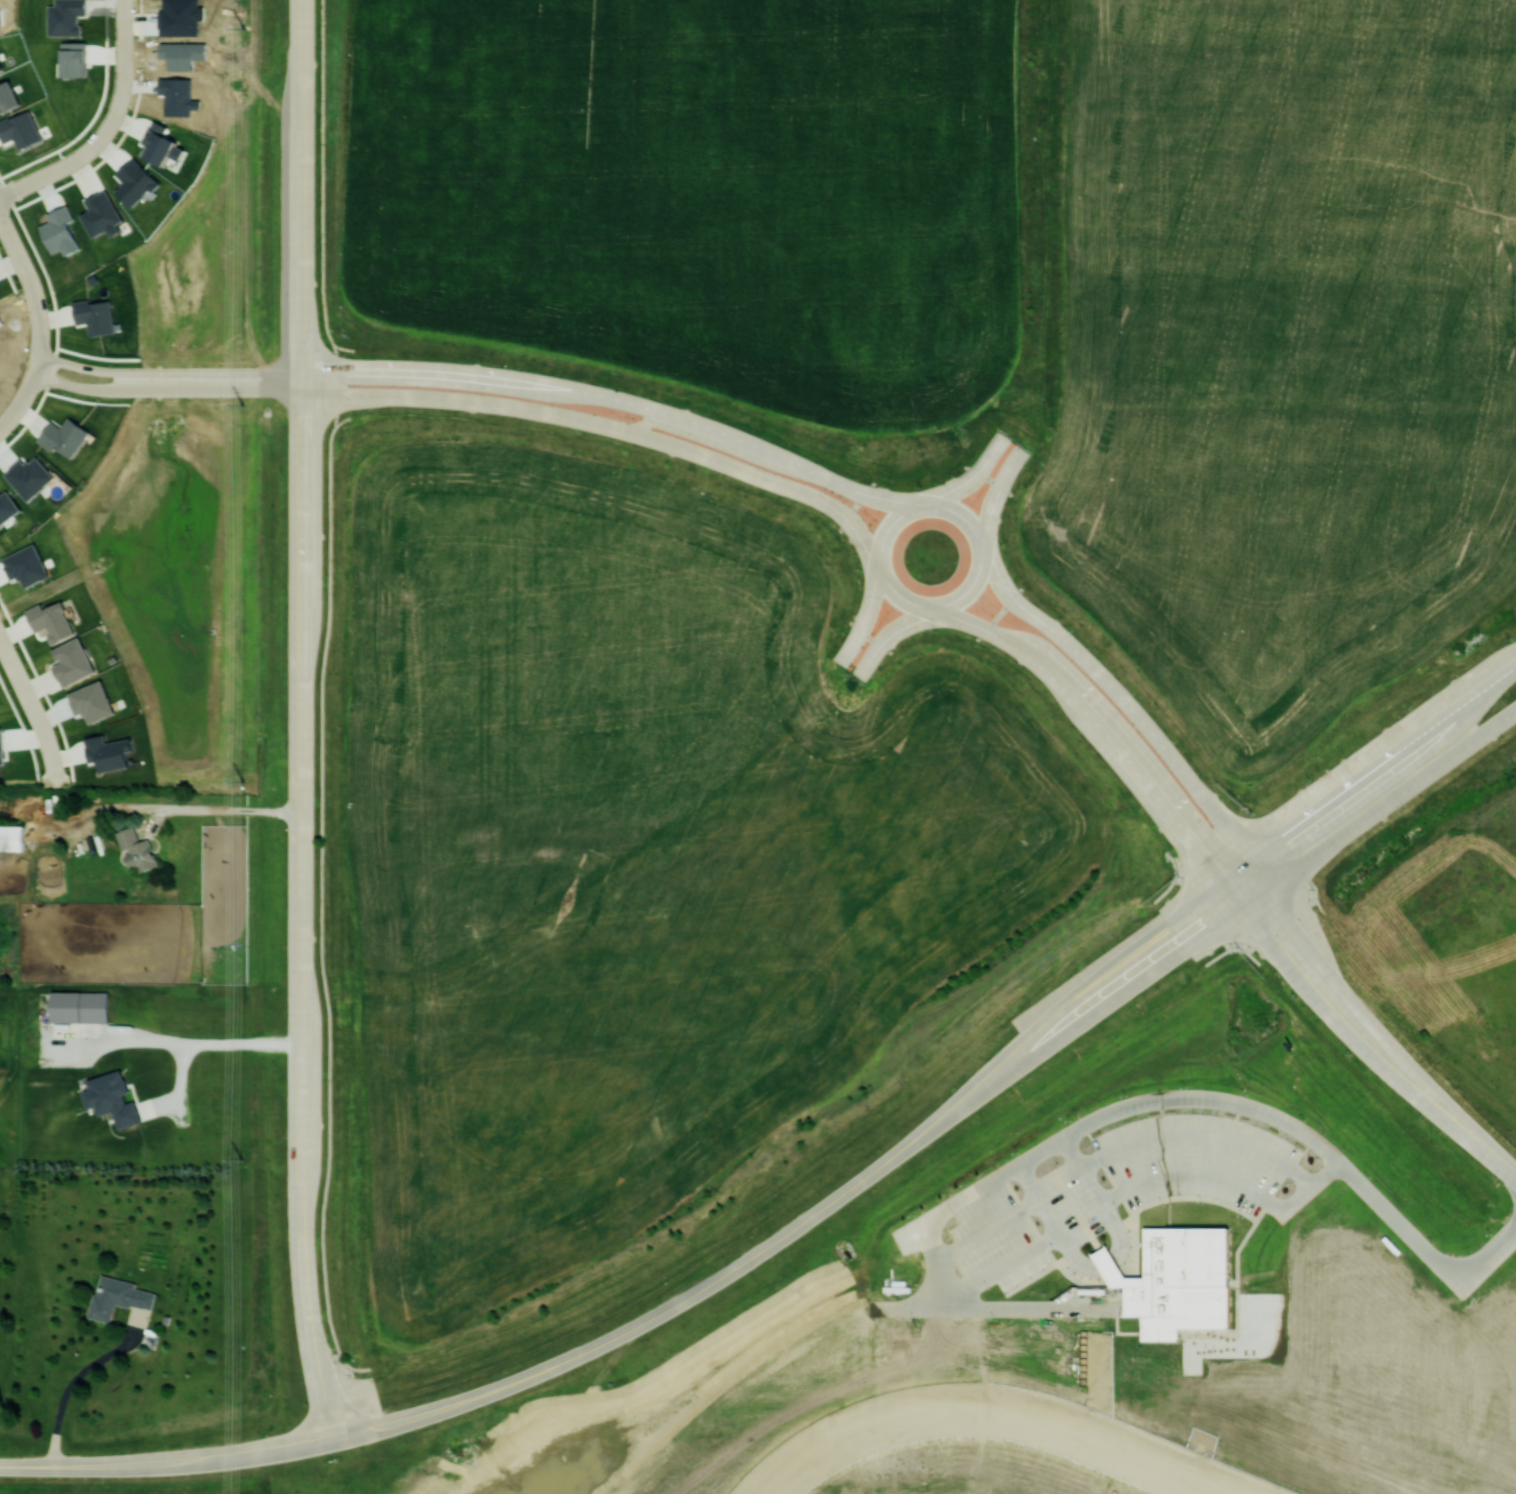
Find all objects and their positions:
power tower: (243, 29)
building: (74, 59)
road: (106, 126)
building: (161, 145)
building: (135, 182)
road: (300, 185)
building: (102, 214)
park: (234, 218)
road: (31, 284)
building: (95, 316)
road: (35, 365)
road: (88, 366)
road: (219, 371)
road: (300, 382)
road: (84, 385)
road: (218, 389)
road: (618, 399)
road: (19, 403)
power tower: (241, 404)
road: (609, 425)
building: (65, 436)
road: (971, 475)
building: (30, 477)
road: (995, 492)
building: (7, 507)
building: (26, 565)
park: (195, 591)
road: (299, 598)
road: (904, 599)
road: (863, 619)
building: (52, 621)
road: (885, 636)
building: (73, 662)
road: (32, 708)
road: (1132, 712)
road: (1094, 723)
building: (109, 752)
power tower: (242, 781)
road: (174, 808)
building: (11, 838)
building: (136, 849)
road: (1232, 871)
road: (1242, 905)
building: (80, 1006)
road: (1381, 1036)
road: (1352, 1039)
road: (200, 1045)
building: (112, 1098)
road: (1131, 1109)
road: (299, 1121)
road: (1203, 1134)
power tower: (239, 1156)
road: (1513, 1176)
road: (1194, 1178)
road: (1118, 1227)
road: (988, 1233)
road: (1044, 1246)
road: (1075, 1258)
road: (1108, 1261)
building: (1182, 1285)
building: (118, 1297)
road: (667, 1308)
track: (1073, 1308)
road: (76, 1383)
road: (164, 1461)

